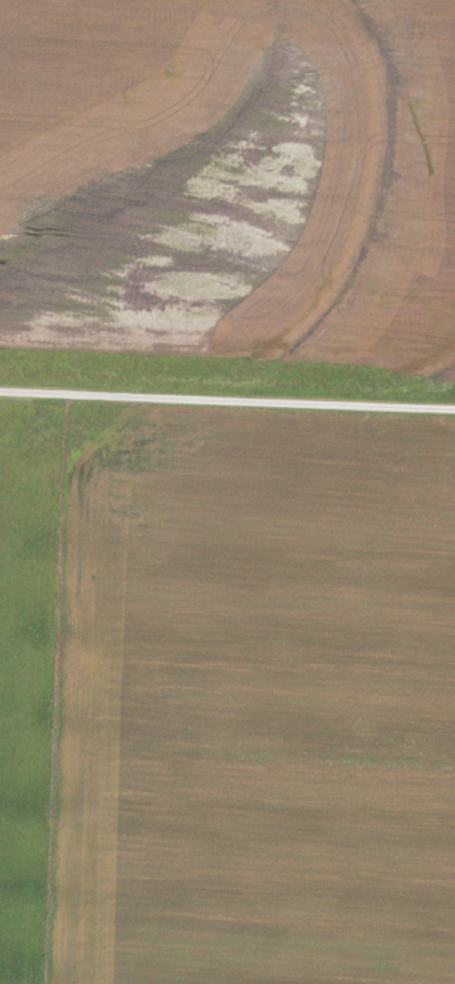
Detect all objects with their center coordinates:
road: (227, 396)

